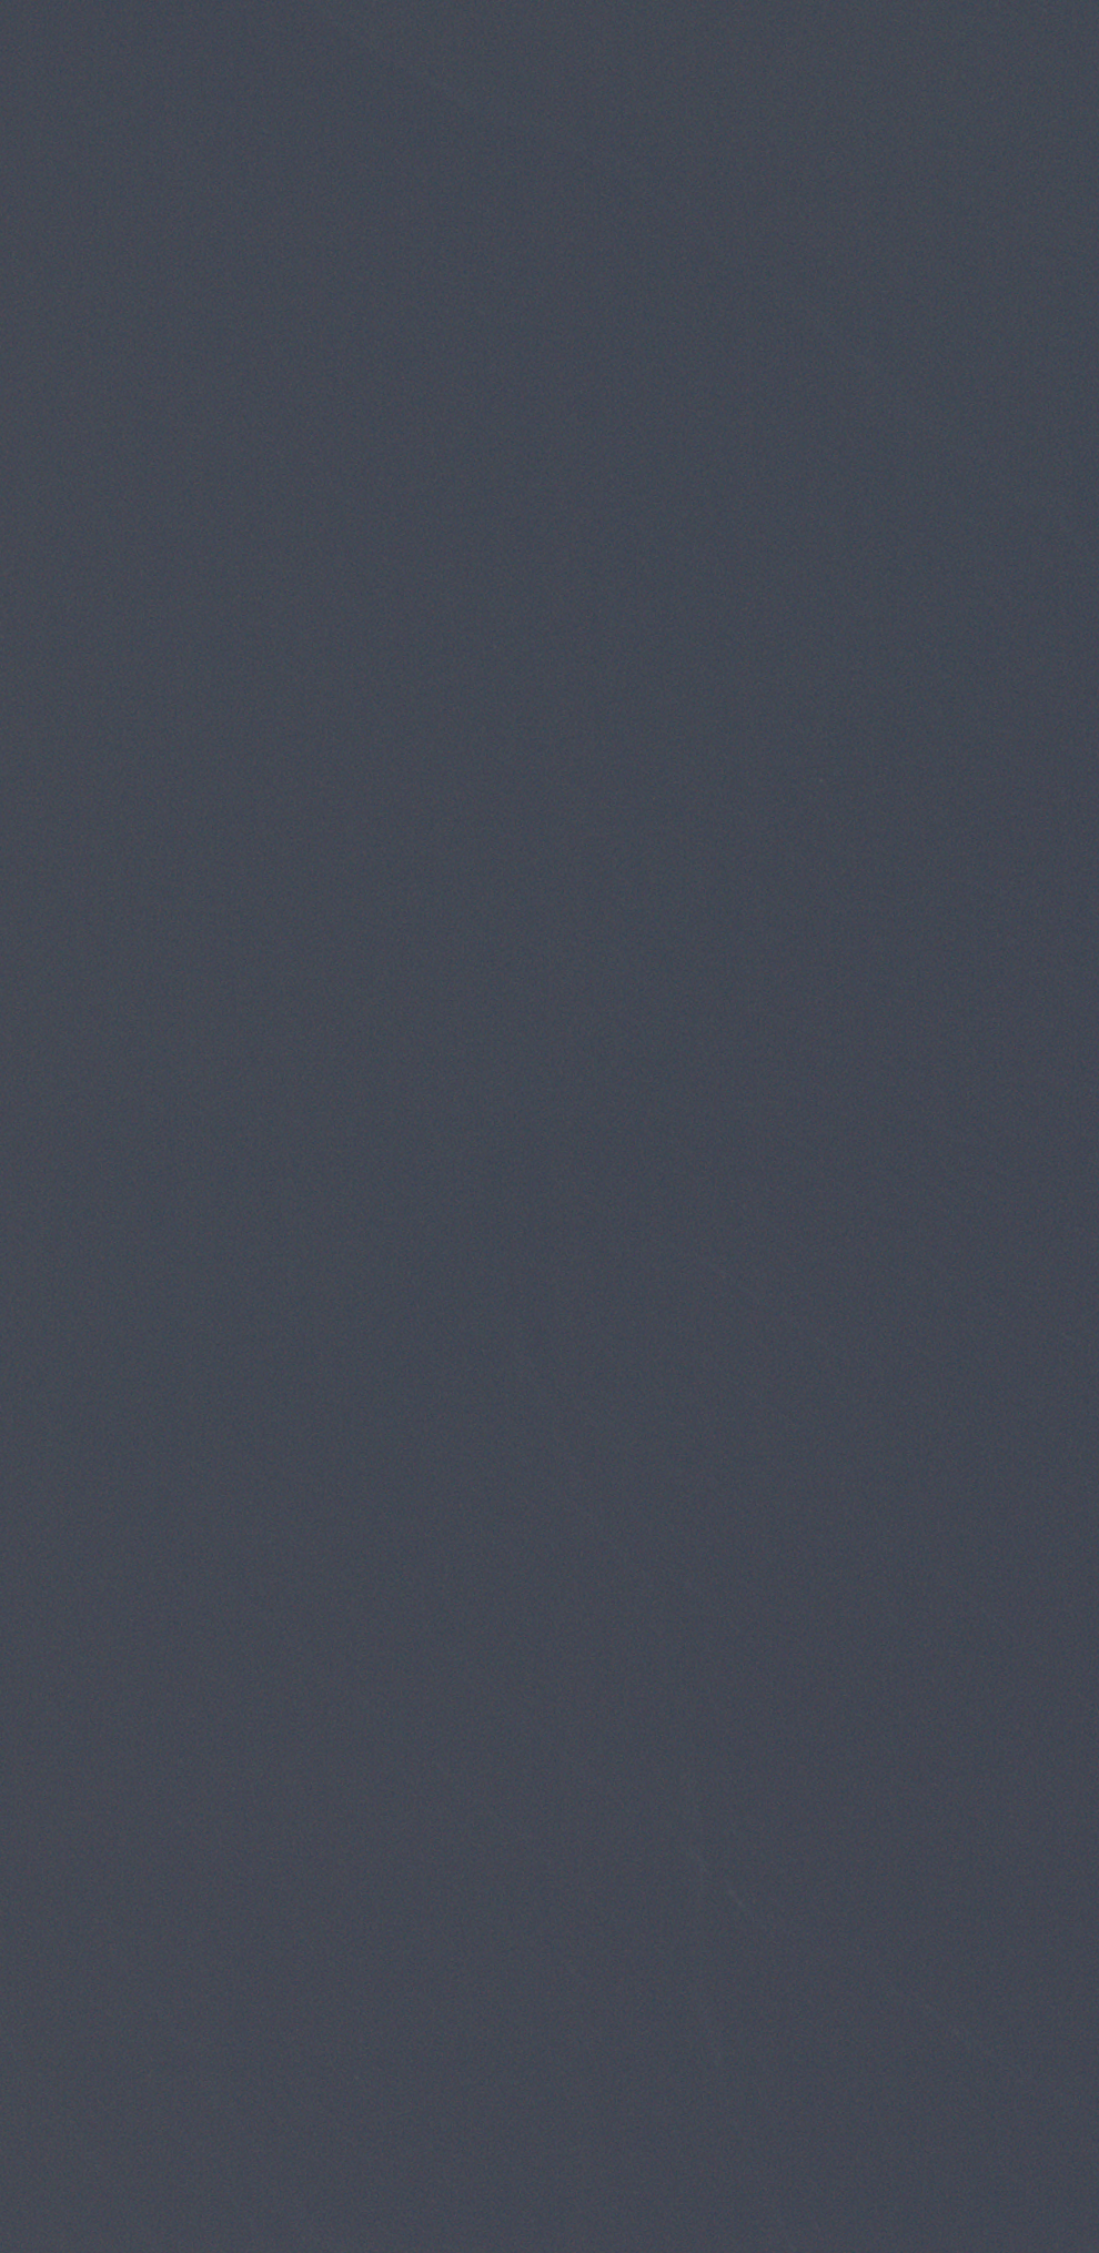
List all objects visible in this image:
river: (907, 1108)

